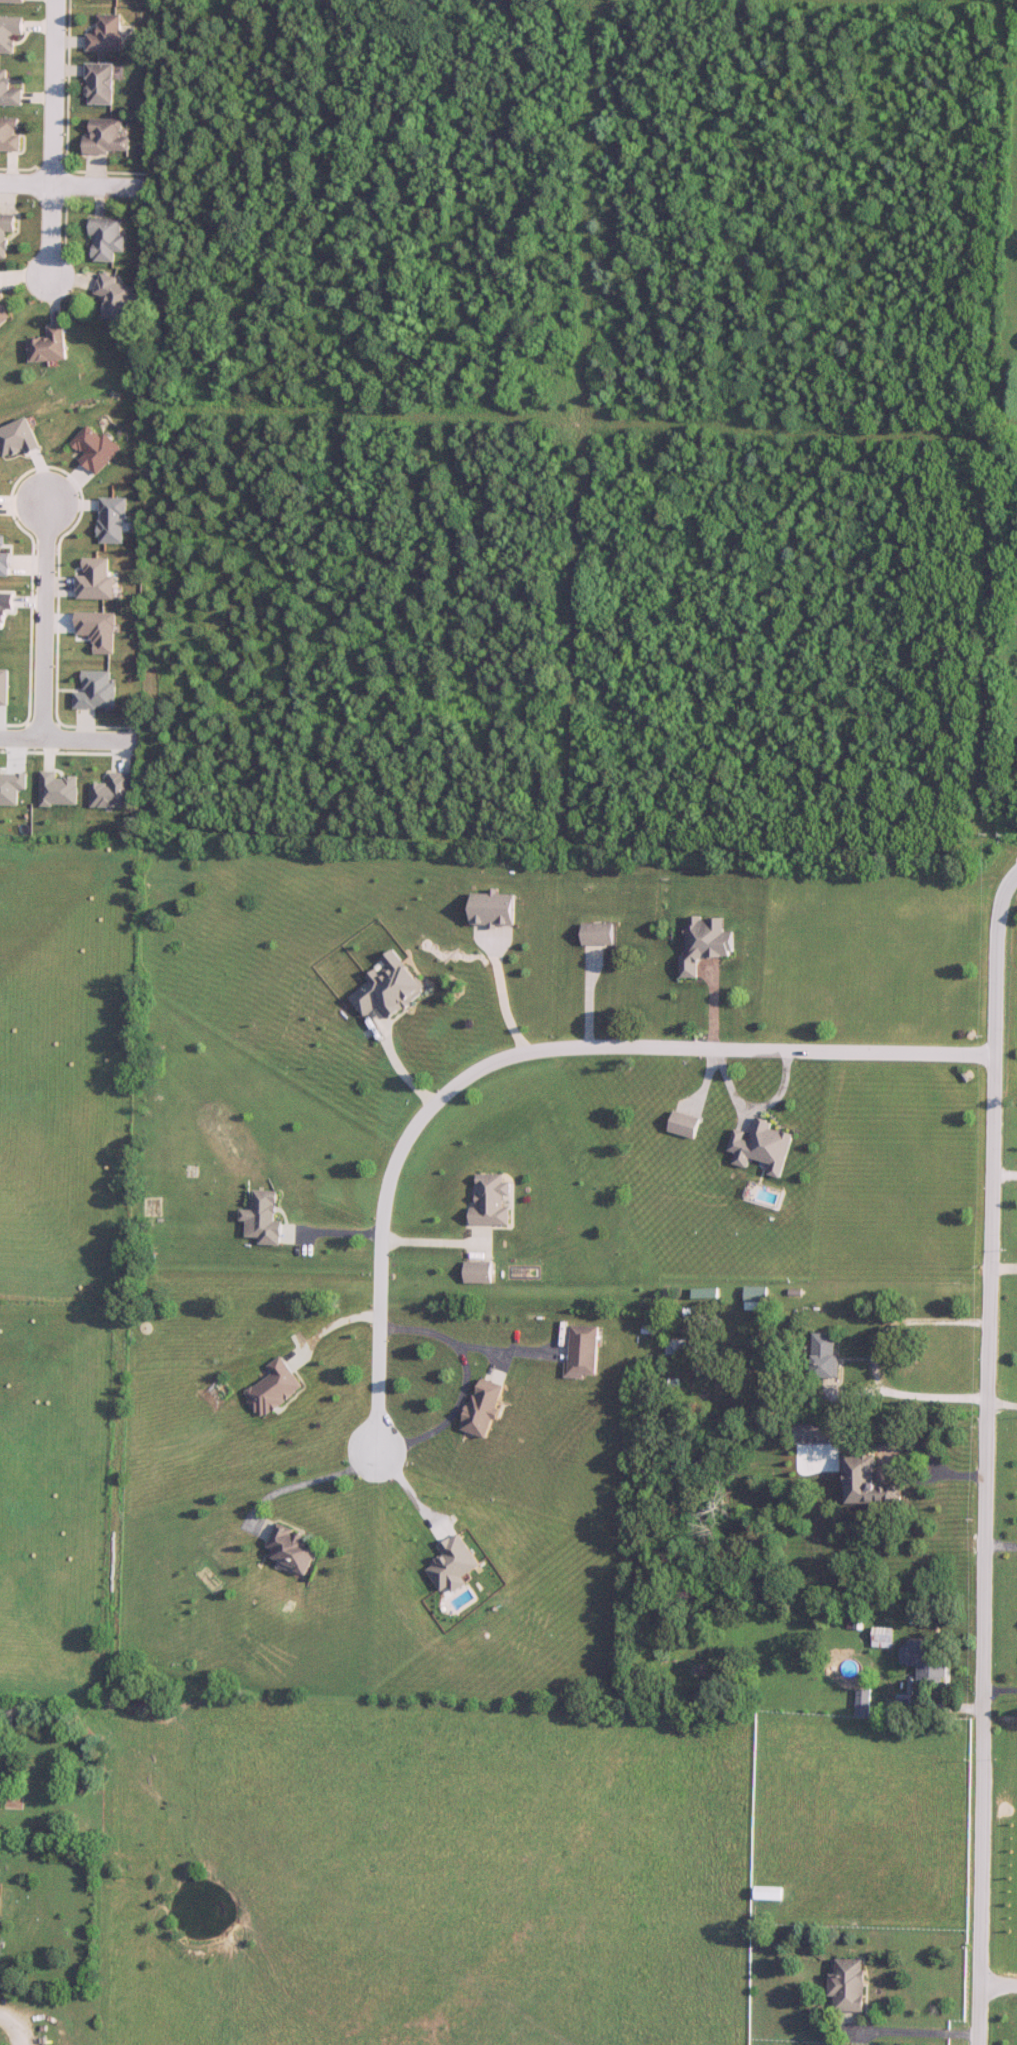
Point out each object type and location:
building: (12, 1)
building: (9, 33)
building: (106, 35)
building: (99, 84)
building: (8, 91)
building: (10, 134)
building: (107, 138)
road: (53, 142)
road: (76, 185)
building: (6, 232)
building: (108, 239)
building: (116, 298)
building: (0, 318)
building: (50, 347)
road: (42, 611)
road: (64, 739)
building: (597, 940)
building: (695, 966)
road: (501, 995)
road: (522, 1049)
road: (993, 1142)
road: (1005, 1174)
building: (491, 1201)
road: (425, 1239)
building: (480, 1272)
building: (757, 1298)
road: (326, 1330)
building: (585, 1351)
building: (826, 1355)
road: (873, 1369)
road: (465, 1379)
building: (275, 1388)
building: (485, 1407)
road: (1003, 1411)
road: (310, 1481)
building: (869, 1483)
road: (409, 1489)
building: (293, 1549)
road: (1001, 1551)
building: (455, 1565)
building: (883, 1637)
building: (932, 1667)
road: (1000, 1695)
building: (863, 1704)
road: (984, 1727)
building: (769, 1894)
road: (998, 1985)
building: (848, 1987)
road: (902, 2038)
road: (4, 2039)

